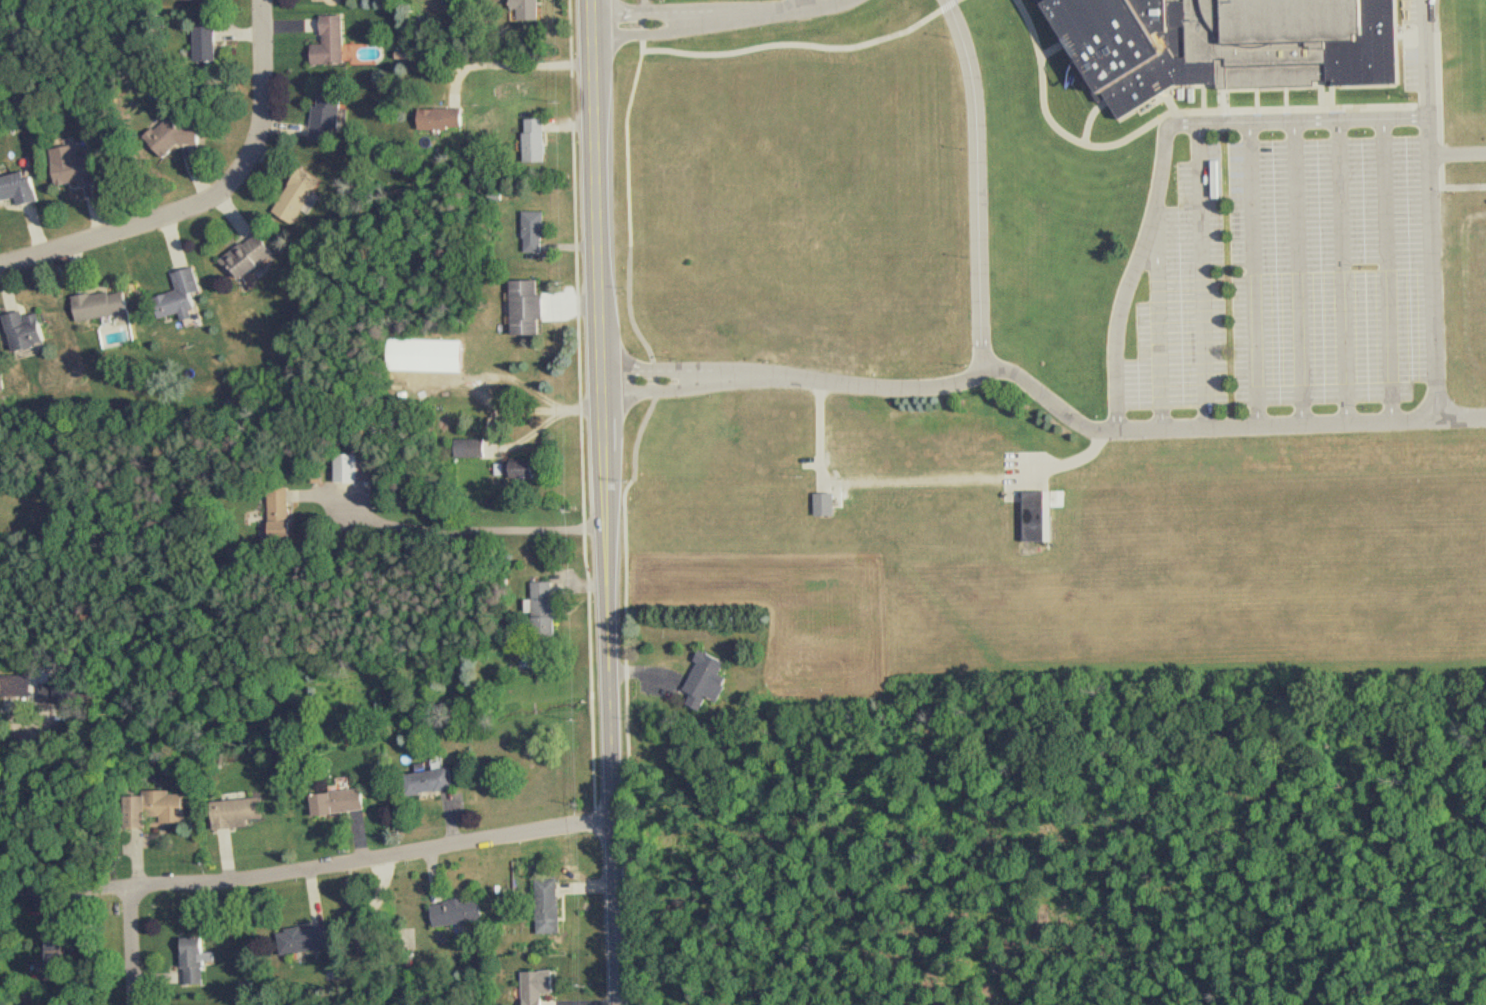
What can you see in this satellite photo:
road: (801, 4)
building: (532, 11)
road: (722, 17)
building: (338, 37)
building: (211, 43)
building: (1232, 44)
road: (519, 66)
building: (327, 117)
building: (449, 120)
building: (185, 132)
building: (543, 142)
road: (1163, 152)
building: (78, 166)
road: (977, 185)
building: (20, 189)
road: (213, 203)
road: (1430, 209)
building: (541, 230)
building: (253, 256)
road: (602, 263)
road: (1388, 270)
road: (1343, 272)
road: (1298, 273)
road: (1253, 274)
road: (1202, 276)
parking lot: (1290, 279)
building: (187, 294)
building: (106, 305)
building: (535, 308)
road: (1159, 316)
building: (29, 331)
building: (435, 355)
road: (504, 375)
road: (1045, 397)
building: (473, 448)
building: (357, 470)
road: (926, 482)
building: (822, 504)
building: (278, 515)
building: (1035, 516)
road: (466, 530)
building: (700, 680)
building: (60, 694)
road: (614, 766)
building: (435, 780)
building: (341, 801)
building: (166, 806)
building: (236, 812)
road: (374, 859)
road: (33, 863)
road: (30, 893)
building: (464, 911)
building: (309, 939)
road: (133, 945)
building: (197, 958)
building: (547, 986)

